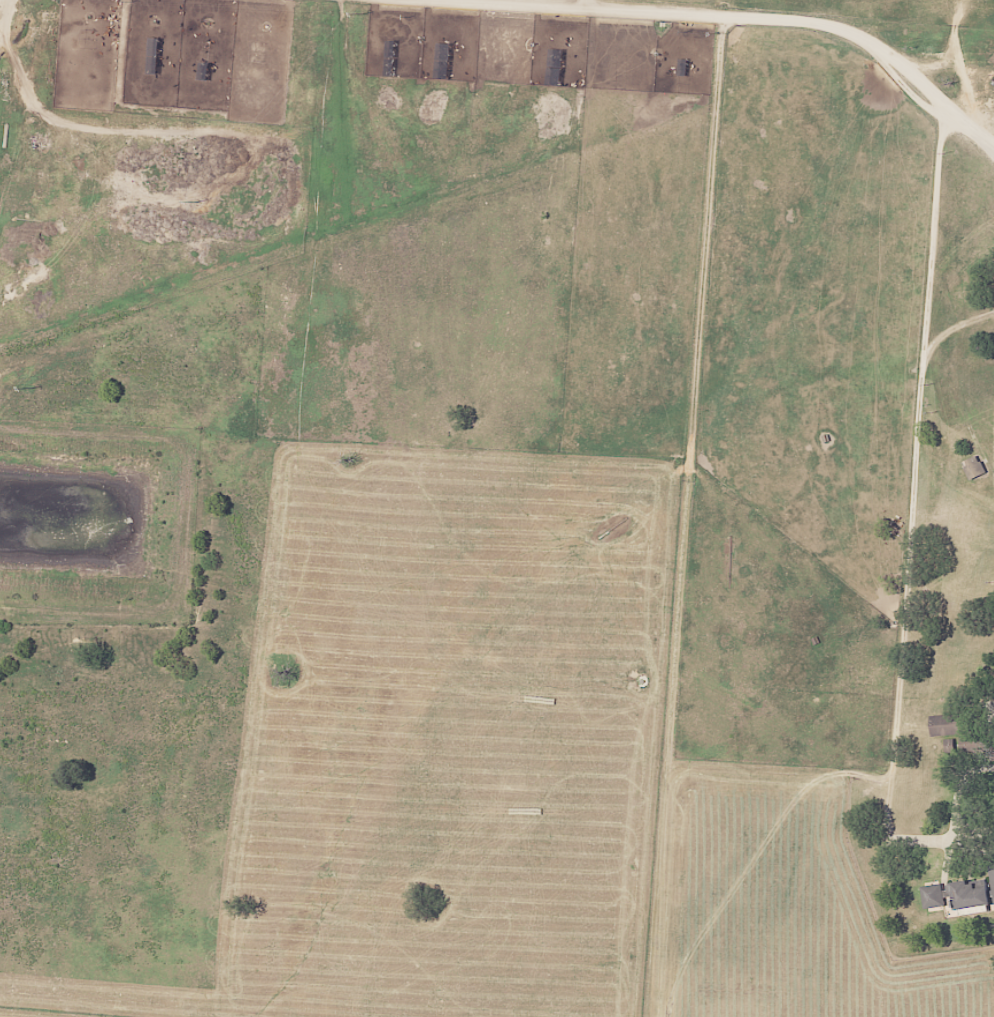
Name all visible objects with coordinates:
road: (583, 3)
power tower: (363, 13)
road: (753, 16)
building: (443, 51)
road: (27, 107)
road: (983, 142)
power tower: (197, 201)
road: (957, 324)
power tower: (31, 388)
road: (993, 436)
road: (915, 463)
building: (974, 467)
building: (947, 726)
road: (926, 842)
road: (752, 864)
building: (992, 878)
building: (956, 895)

